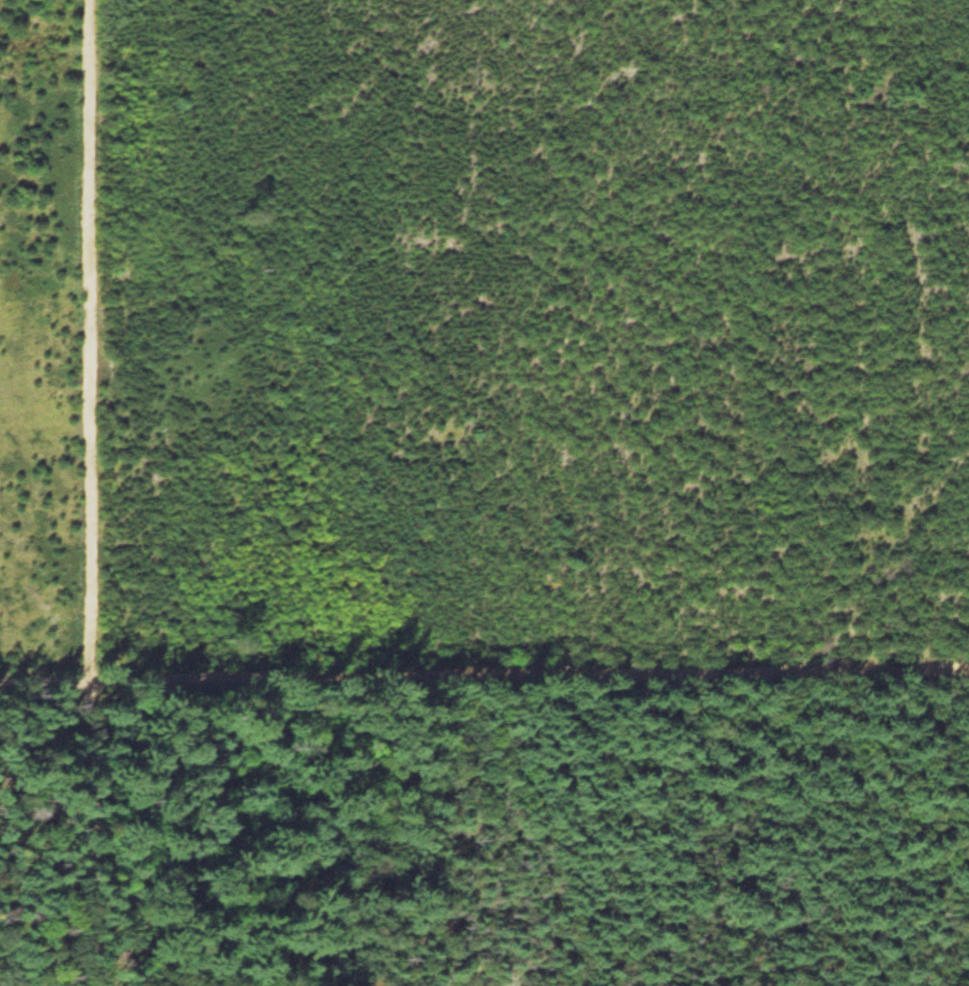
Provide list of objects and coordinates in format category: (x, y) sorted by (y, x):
road: (93, 493)
road: (484, 677)

